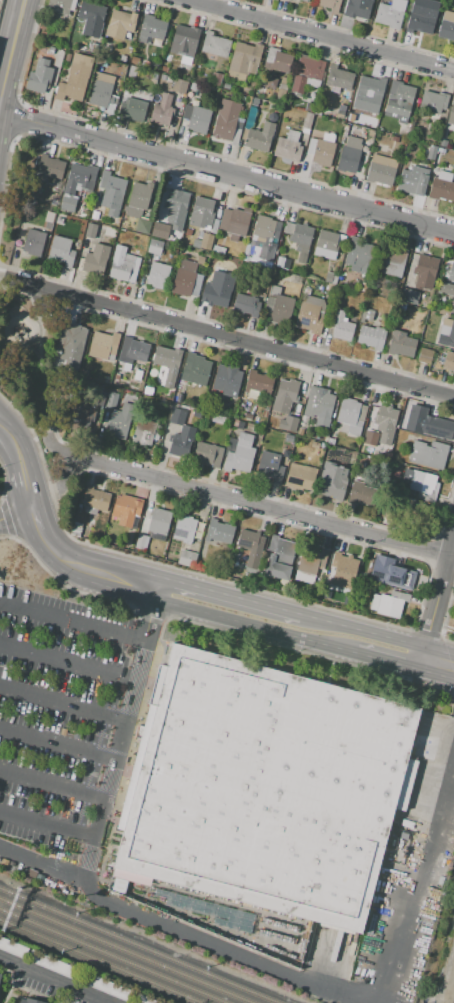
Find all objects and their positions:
building: (286, 0)
building: (305, 0)
building: (331, 5)
building: (61, 6)
building: (357, 8)
building: (91, 14)
building: (388, 16)
building: (420, 21)
building: (120, 23)
building: (447, 26)
building: (151, 28)
road: (320, 35)
building: (185, 40)
building: (215, 45)
building: (94, 48)
building: (51, 50)
road: (13, 53)
building: (122, 58)
building: (167, 58)
building: (134, 60)
building: (276, 60)
building: (99, 61)
building: (244, 61)
building: (154, 65)
building: (309, 67)
building: (164, 69)
building: (154, 75)
building: (340, 76)
building: (74, 77)
building: (163, 77)
building: (216, 78)
building: (169, 79)
building: (284, 80)
building: (36, 82)
building: (271, 82)
building: (298, 84)
building: (179, 86)
building: (192, 86)
building: (282, 86)
building: (370, 86)
building: (225, 87)
building: (115, 88)
building: (101, 90)
building: (281, 92)
building: (177, 99)
building: (190, 100)
building: (252, 101)
building: (398, 101)
building: (433, 101)
building: (132, 108)
building: (162, 109)
building: (287, 111)
building: (339, 114)
building: (451, 114)
building: (196, 117)
building: (250, 117)
building: (301, 117)
building: (226, 119)
building: (306, 123)
building: (237, 132)
building: (372, 132)
building: (261, 137)
building: (380, 139)
building: (443, 143)
building: (288, 146)
building: (433, 148)
building: (321, 149)
building: (442, 151)
building: (349, 156)
building: (430, 156)
building: (48, 168)
building: (381, 169)
road: (227, 175)
building: (444, 176)
building: (413, 180)
building: (77, 185)
building: (111, 190)
building: (441, 190)
building: (138, 197)
building: (222, 199)
building: (177, 201)
building: (95, 205)
building: (201, 212)
building: (218, 214)
building: (94, 215)
building: (58, 219)
building: (234, 223)
building: (46, 224)
building: (142, 226)
building: (214, 226)
building: (265, 228)
building: (89, 230)
building: (160, 230)
building: (125, 232)
building: (188, 233)
building: (130, 234)
building: (200, 235)
building: (299, 239)
building: (219, 240)
building: (206, 241)
building: (34, 242)
building: (196, 243)
building: (328, 244)
building: (233, 245)
building: (154, 247)
building: (218, 249)
building: (61, 251)
building: (253, 253)
building: (358, 253)
building: (96, 259)
building: (200, 259)
building: (391, 262)
building: (282, 263)
building: (265, 265)
building: (121, 267)
building: (424, 269)
building: (450, 272)
building: (158, 275)
road: (5, 276)
building: (328, 278)
building: (187, 280)
building: (349, 282)
building: (446, 288)
building: (307, 290)
building: (214, 293)
building: (407, 294)
building: (247, 305)
building: (278, 305)
building: (400, 306)
building: (452, 308)
building: (311, 314)
building: (367, 314)
building: (341, 327)
building: (446, 333)
building: (371, 336)
building: (72, 337)
road: (232, 337)
building: (401, 344)
building: (103, 345)
building: (132, 350)
building: (425, 355)
building: (167, 357)
park: (32, 361)
road: (41, 361)
building: (448, 361)
building: (126, 367)
building: (196, 369)
building: (84, 373)
building: (137, 375)
building: (116, 376)
building: (106, 380)
building: (227, 380)
building: (258, 382)
building: (102, 387)
building: (285, 395)
building: (176, 398)
building: (111, 400)
building: (319, 406)
building: (247, 411)
building: (196, 413)
building: (263, 414)
building: (79, 416)
building: (350, 416)
building: (390, 416)
road: (1, 420)
road: (1, 421)
building: (119, 422)
building: (235, 423)
building: (287, 423)
building: (240, 425)
building: (434, 427)
road: (32, 429)
building: (300, 431)
building: (144, 432)
building: (181, 435)
building: (370, 437)
road: (13, 438)
building: (380, 440)
road: (9, 451)
building: (428, 454)
building: (207, 455)
building: (239, 455)
building: (269, 467)
building: (300, 476)
building: (332, 481)
road: (25, 482)
building: (422, 484)
road: (61, 487)
building: (364, 494)
building: (94, 500)
road: (245, 501)
building: (127, 510)
road: (16, 515)
building: (159, 521)
building: (144, 524)
building: (76, 527)
building: (184, 528)
building: (219, 532)
road: (47, 540)
building: (248, 540)
building: (142, 543)
building: (279, 557)
building: (187, 558)
building: (311, 562)
building: (343, 568)
building: (377, 571)
building: (395, 575)
road: (113, 576)
road: (439, 594)
road: (228, 595)
building: (374, 602)
building: (391, 604)
road: (149, 614)
road: (71, 622)
road: (330, 622)
road: (250, 624)
road: (393, 639)
road: (440, 654)
road: (423, 658)
road: (386, 659)
road: (66, 660)
road: (437, 668)
road: (61, 704)
road: (126, 712)
street lamp: (37, 719)
parking lot: (53, 726)
street lamp: (96, 733)
road: (100, 734)
road: (56, 742)
road: (112, 765)
road: (51, 784)
building: (264, 788)
street lamp: (8, 794)
street lamp: (71, 810)
road: (46, 827)
street lamp: (17, 839)
road: (84, 842)
street lamp: (79, 855)
road: (44, 866)
road: (424, 886)
road: (105, 899)
building: (220, 914)
railway: (136, 946)
railway: (125, 951)
railway: (111, 956)
railway: (99, 962)
building: (49, 964)
building: (0, 976)
road: (52, 981)
building: (1, 985)
road: (11, 985)
road: (61, 994)
building: (28, 1000)

